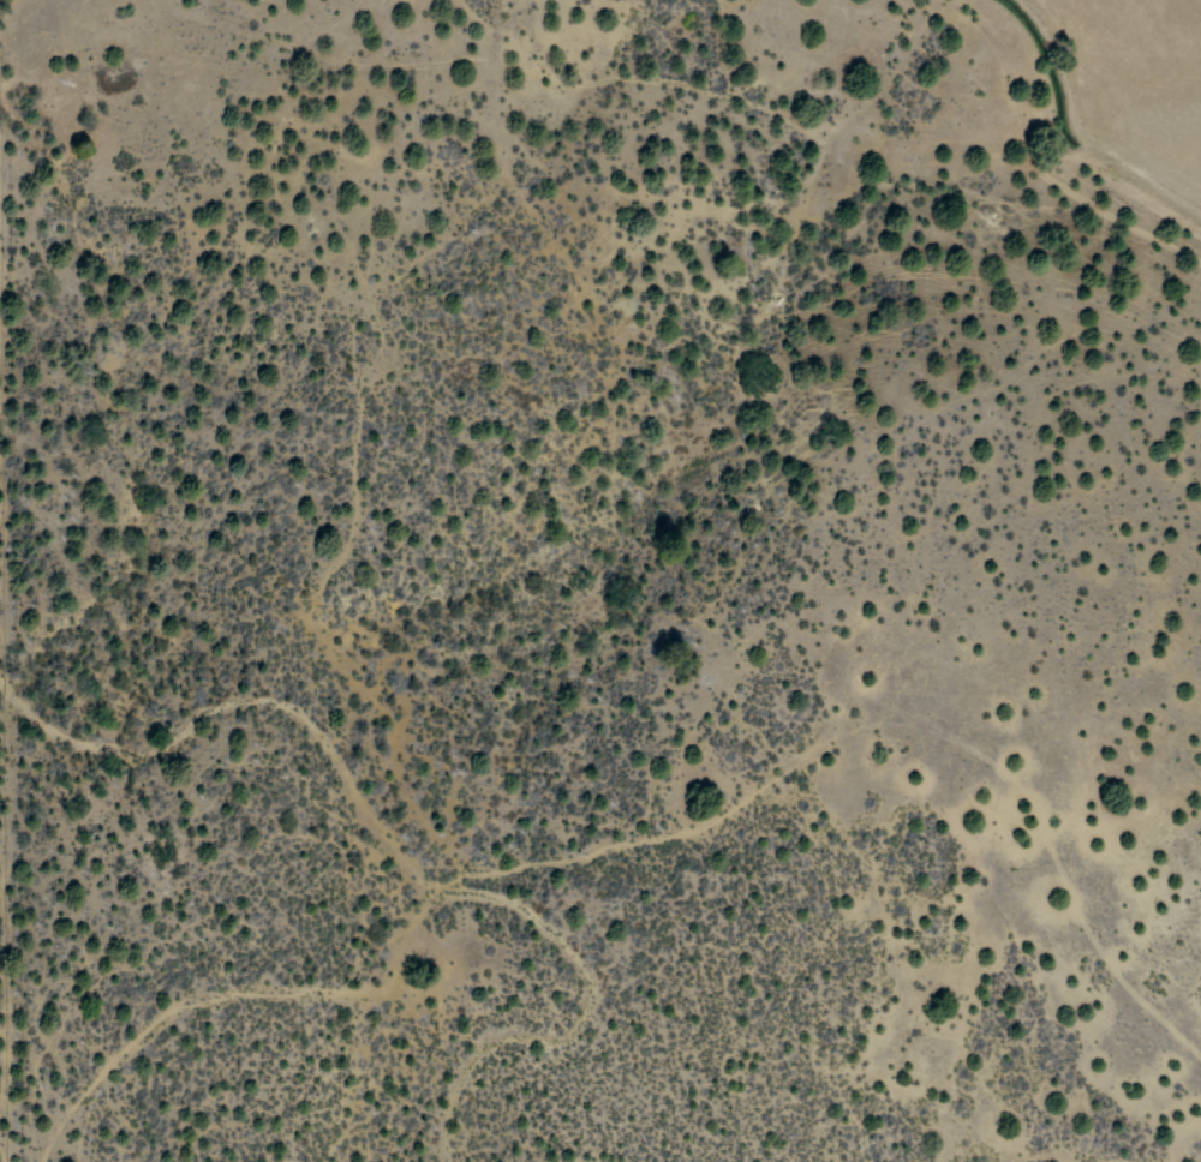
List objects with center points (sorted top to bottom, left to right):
road: (1155, 65)

